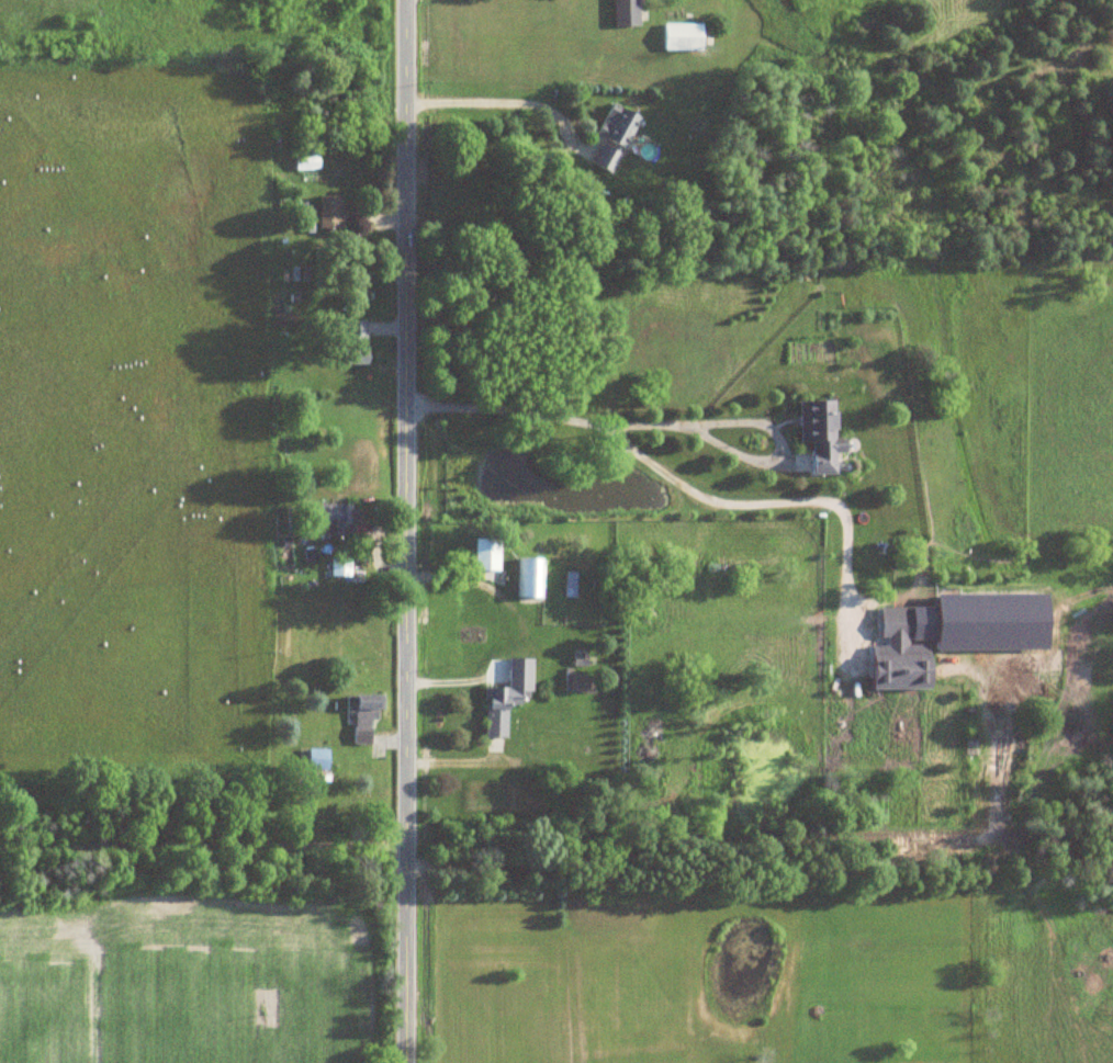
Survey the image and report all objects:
building: (623, 13)
building: (679, 37)
road: (502, 104)
building: (615, 128)
building: (604, 161)
building: (305, 163)
building: (326, 213)
building: (350, 344)
road: (652, 428)
building: (813, 439)
crop: (134, 440)
road: (777, 506)
building: (333, 521)
road: (405, 531)
building: (483, 555)
building: (337, 568)
building: (528, 579)
building: (896, 655)
building: (498, 708)
building: (360, 717)
building: (314, 761)
road: (202, 845)
crop: (189, 979)

